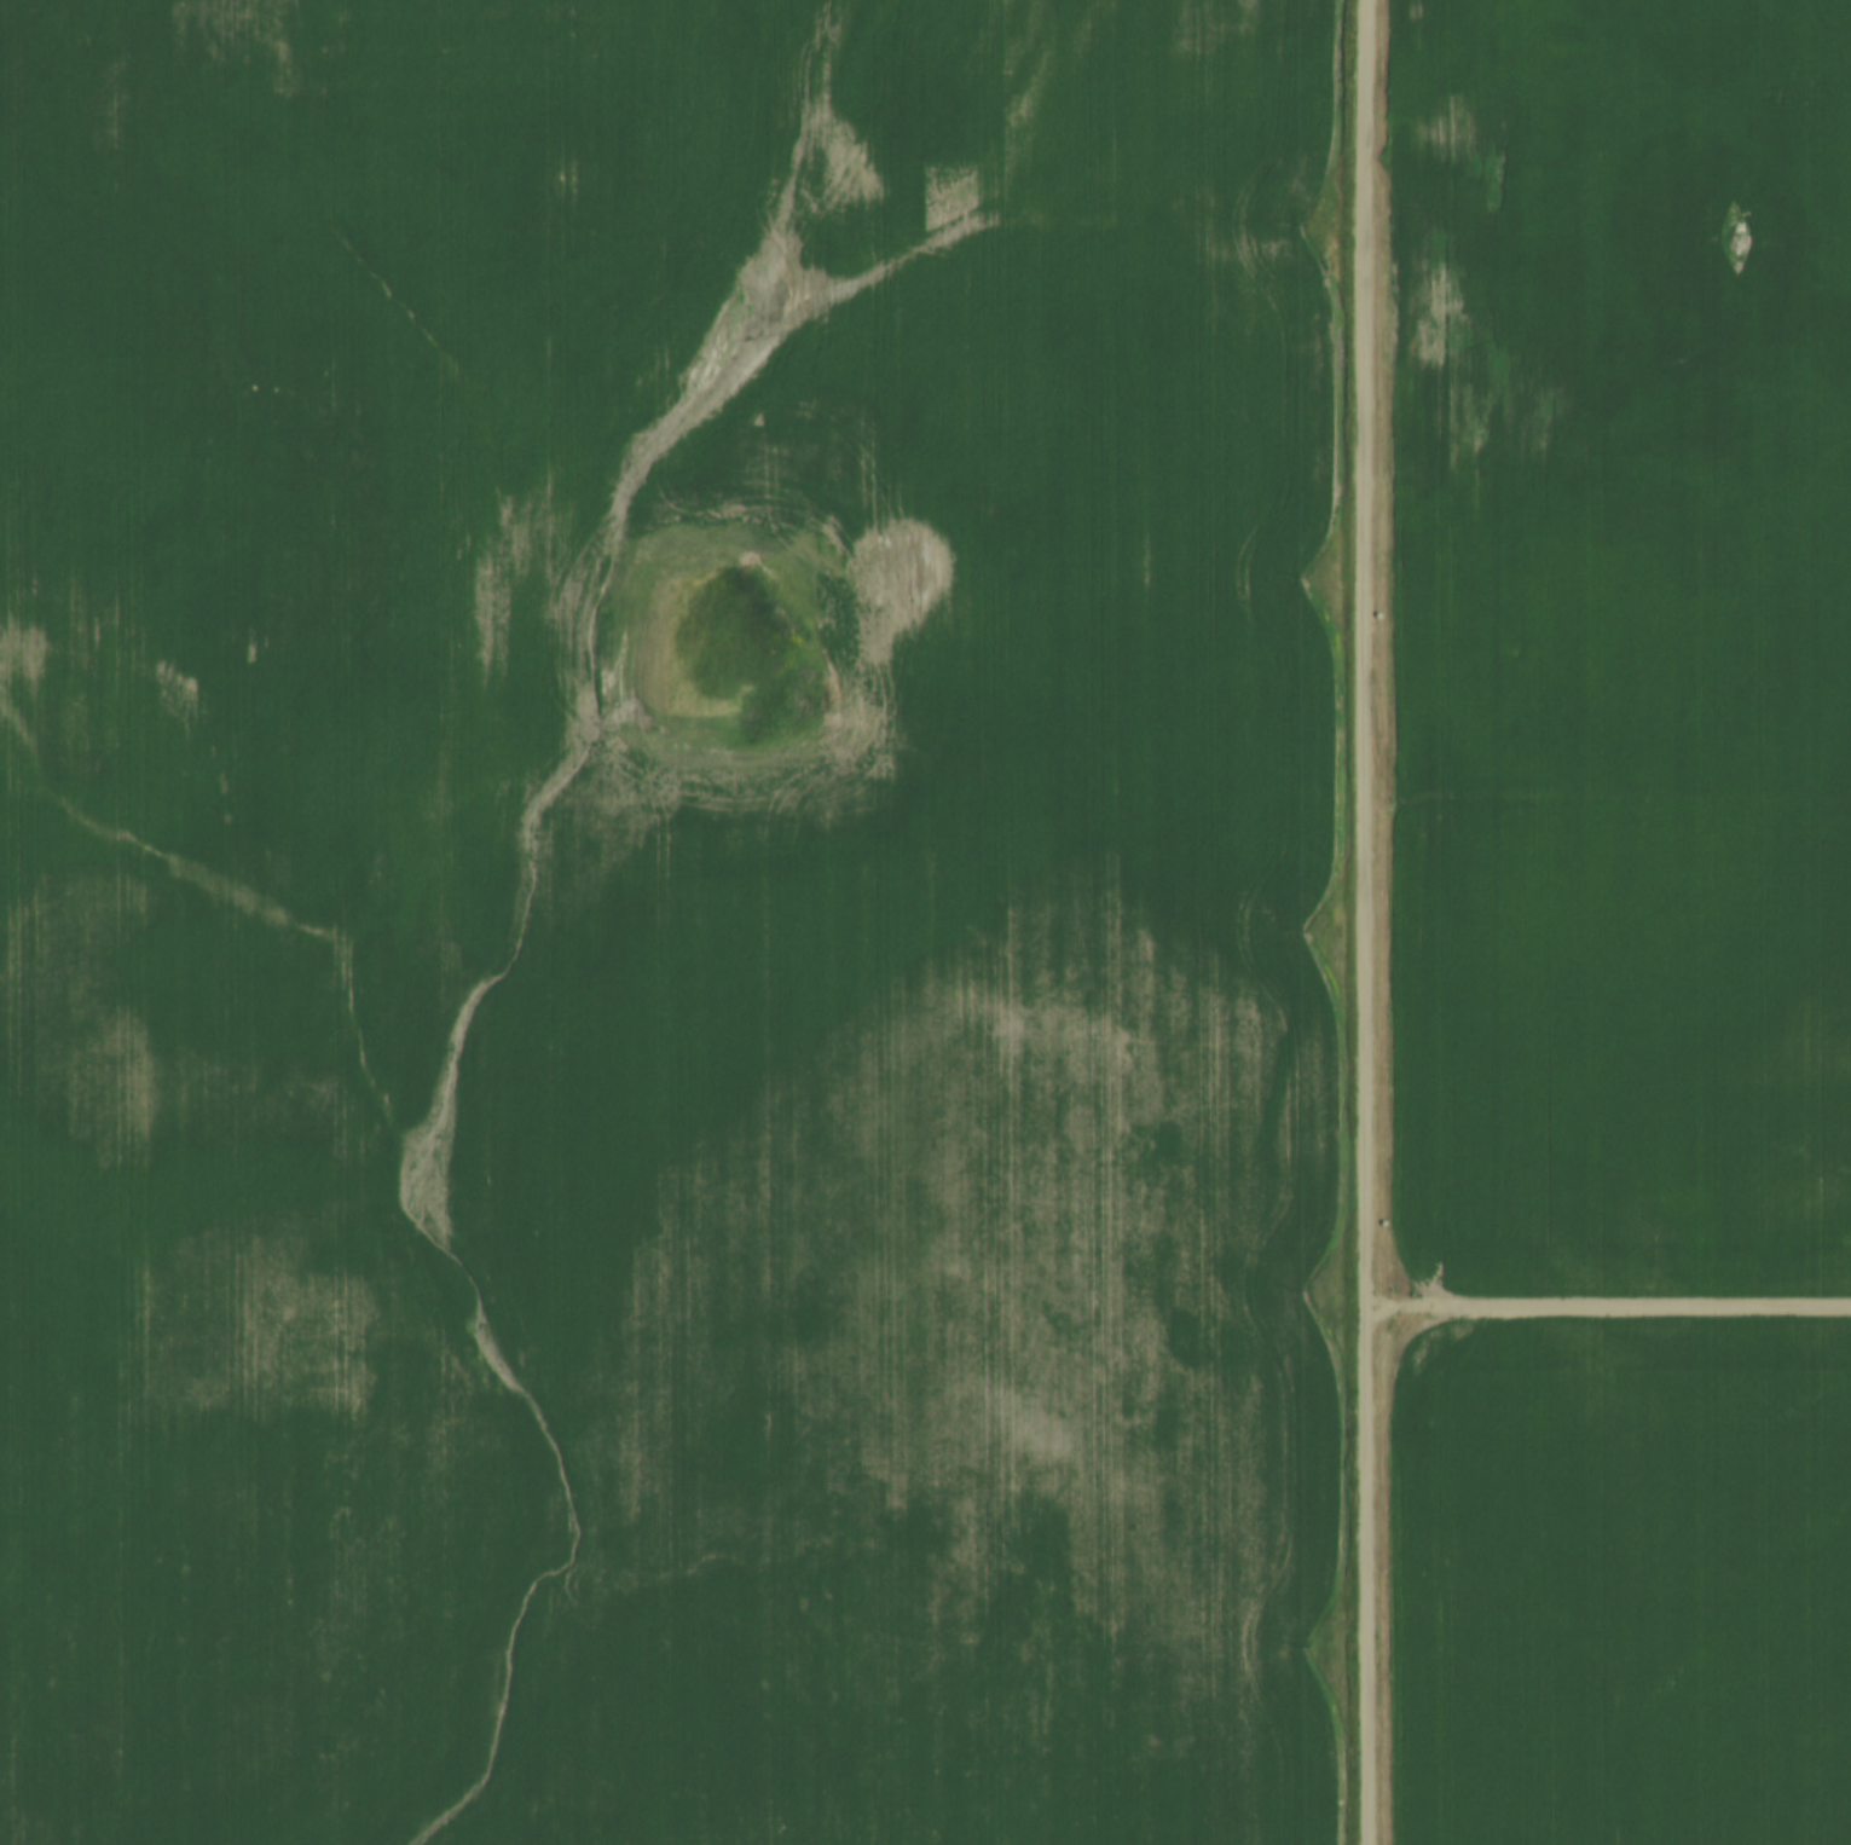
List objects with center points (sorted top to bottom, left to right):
road: (1366, 922)

